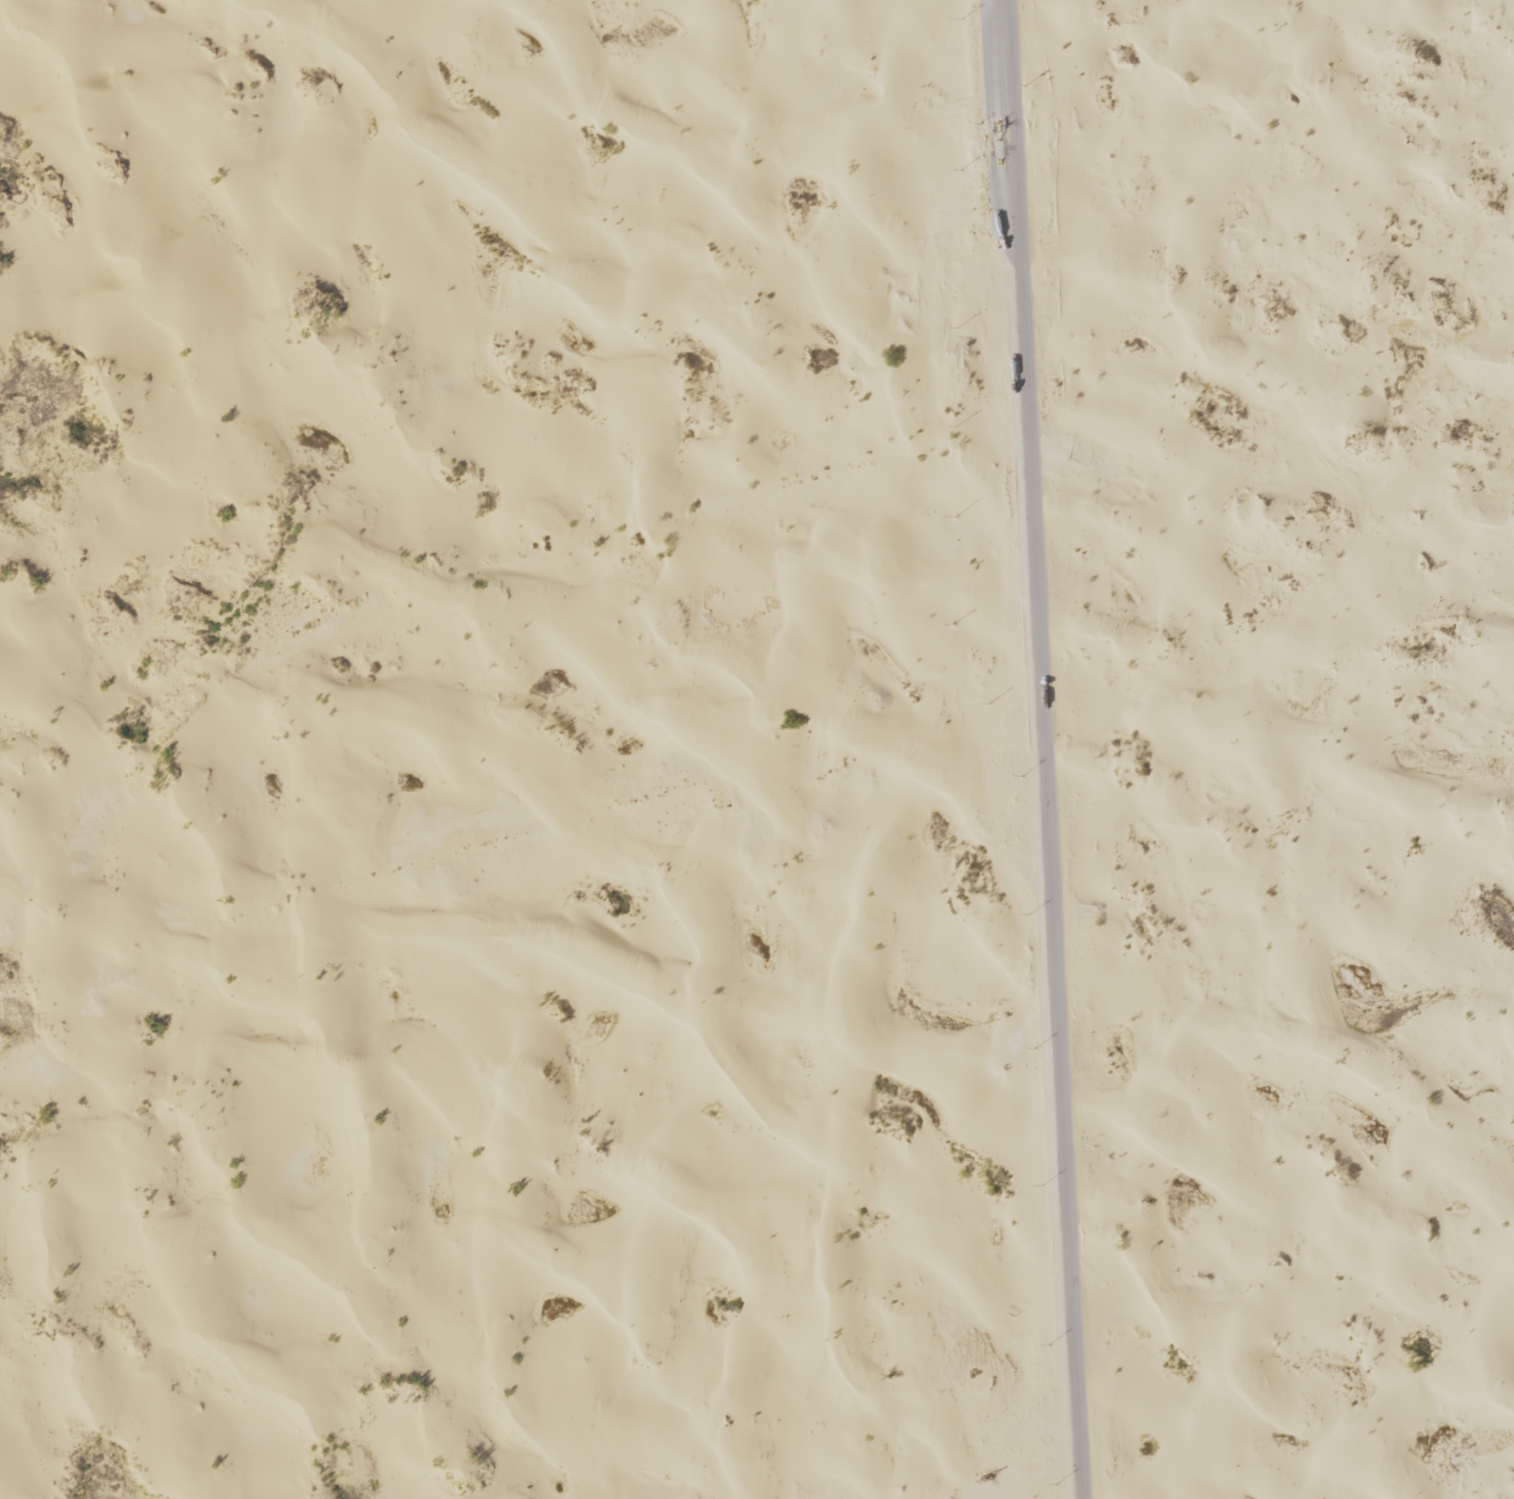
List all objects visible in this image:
road: (1061, 749)

